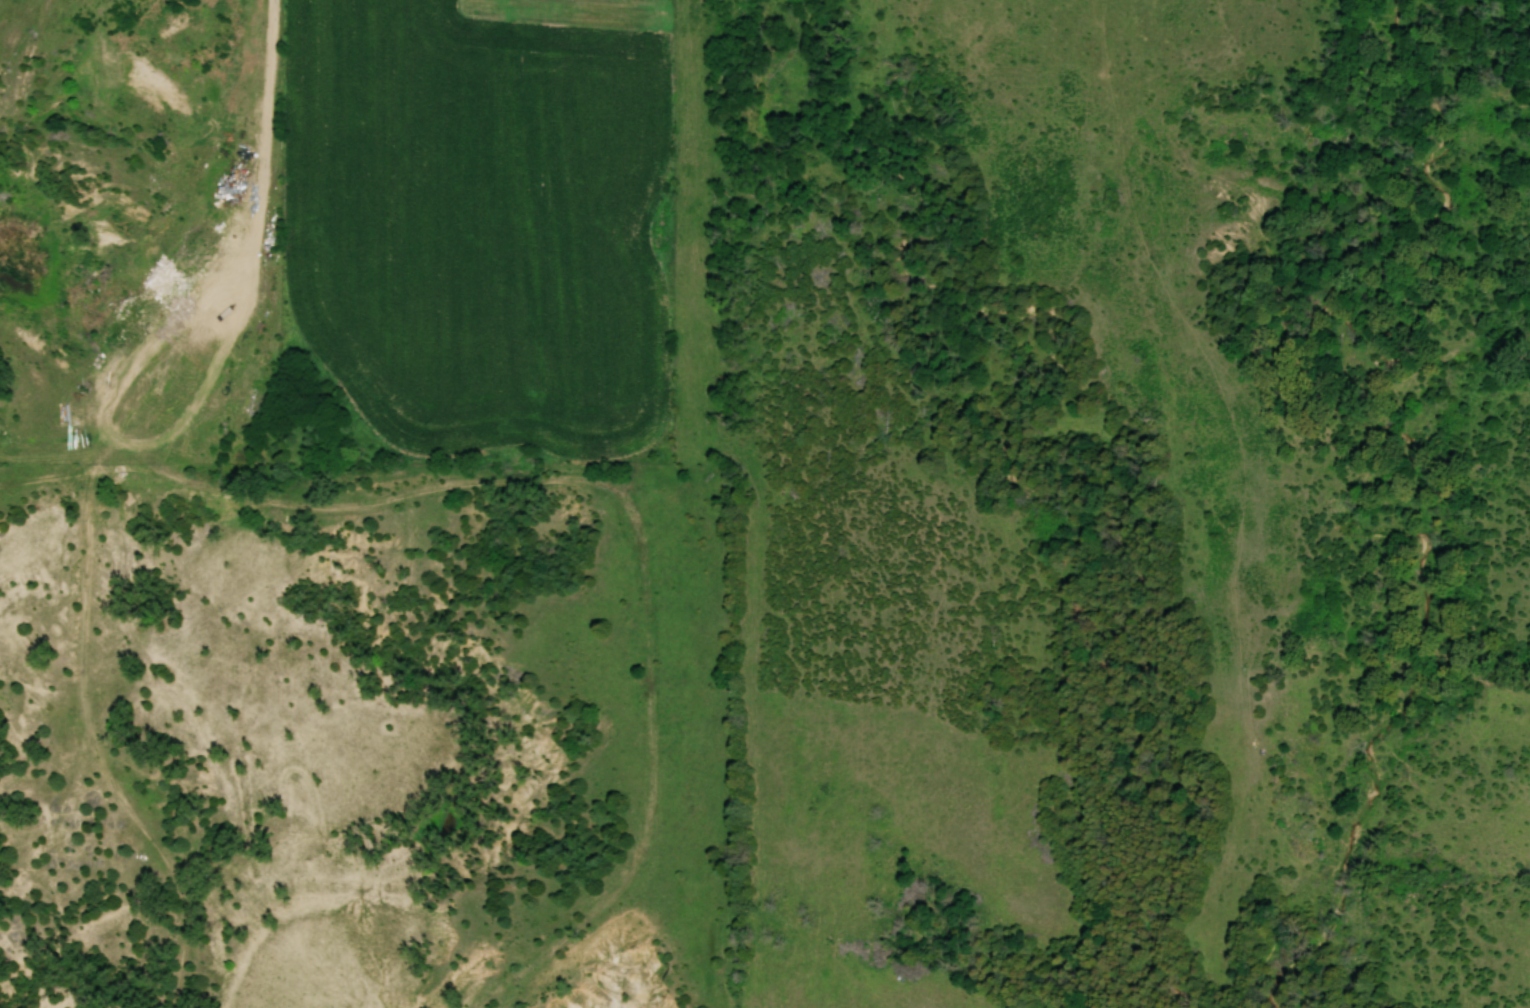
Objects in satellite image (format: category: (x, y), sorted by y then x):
crop: (477, 222)

